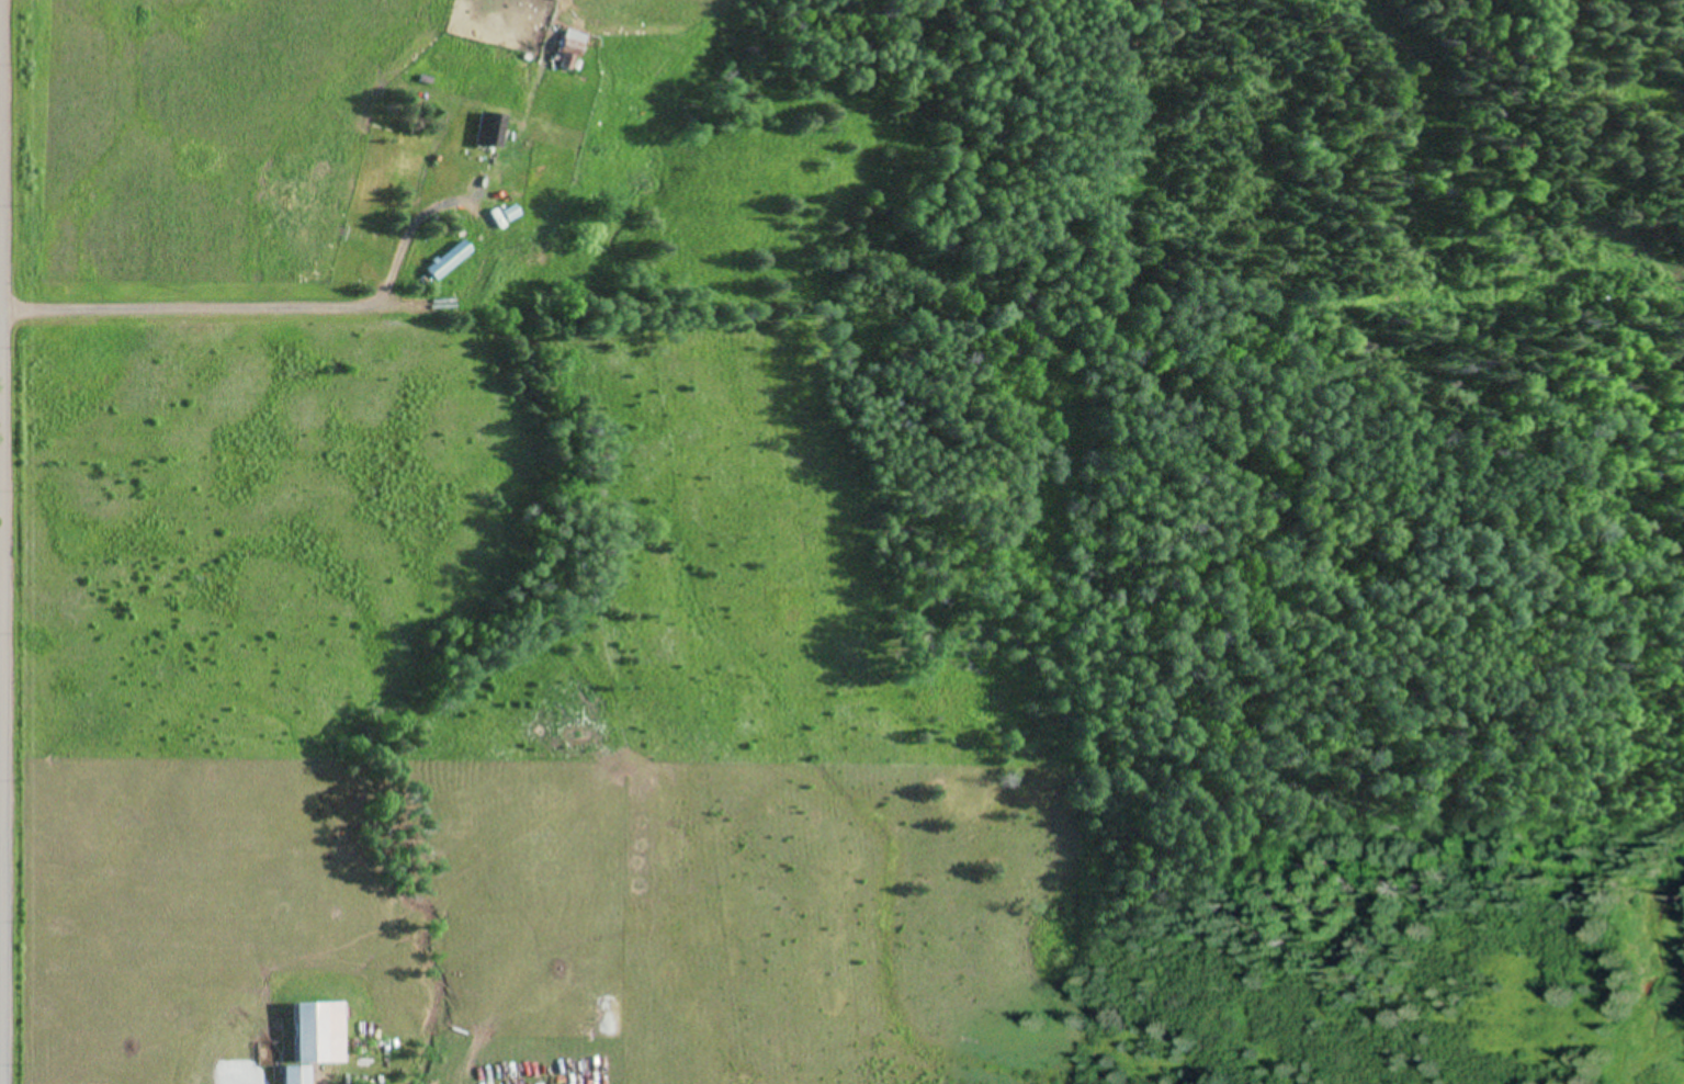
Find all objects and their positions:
building: (564, 49)
building: (483, 128)
crop: (203, 144)
crop: (618, 154)
building: (442, 260)
road: (193, 304)
crop: (493, 708)
building: (307, 1038)

